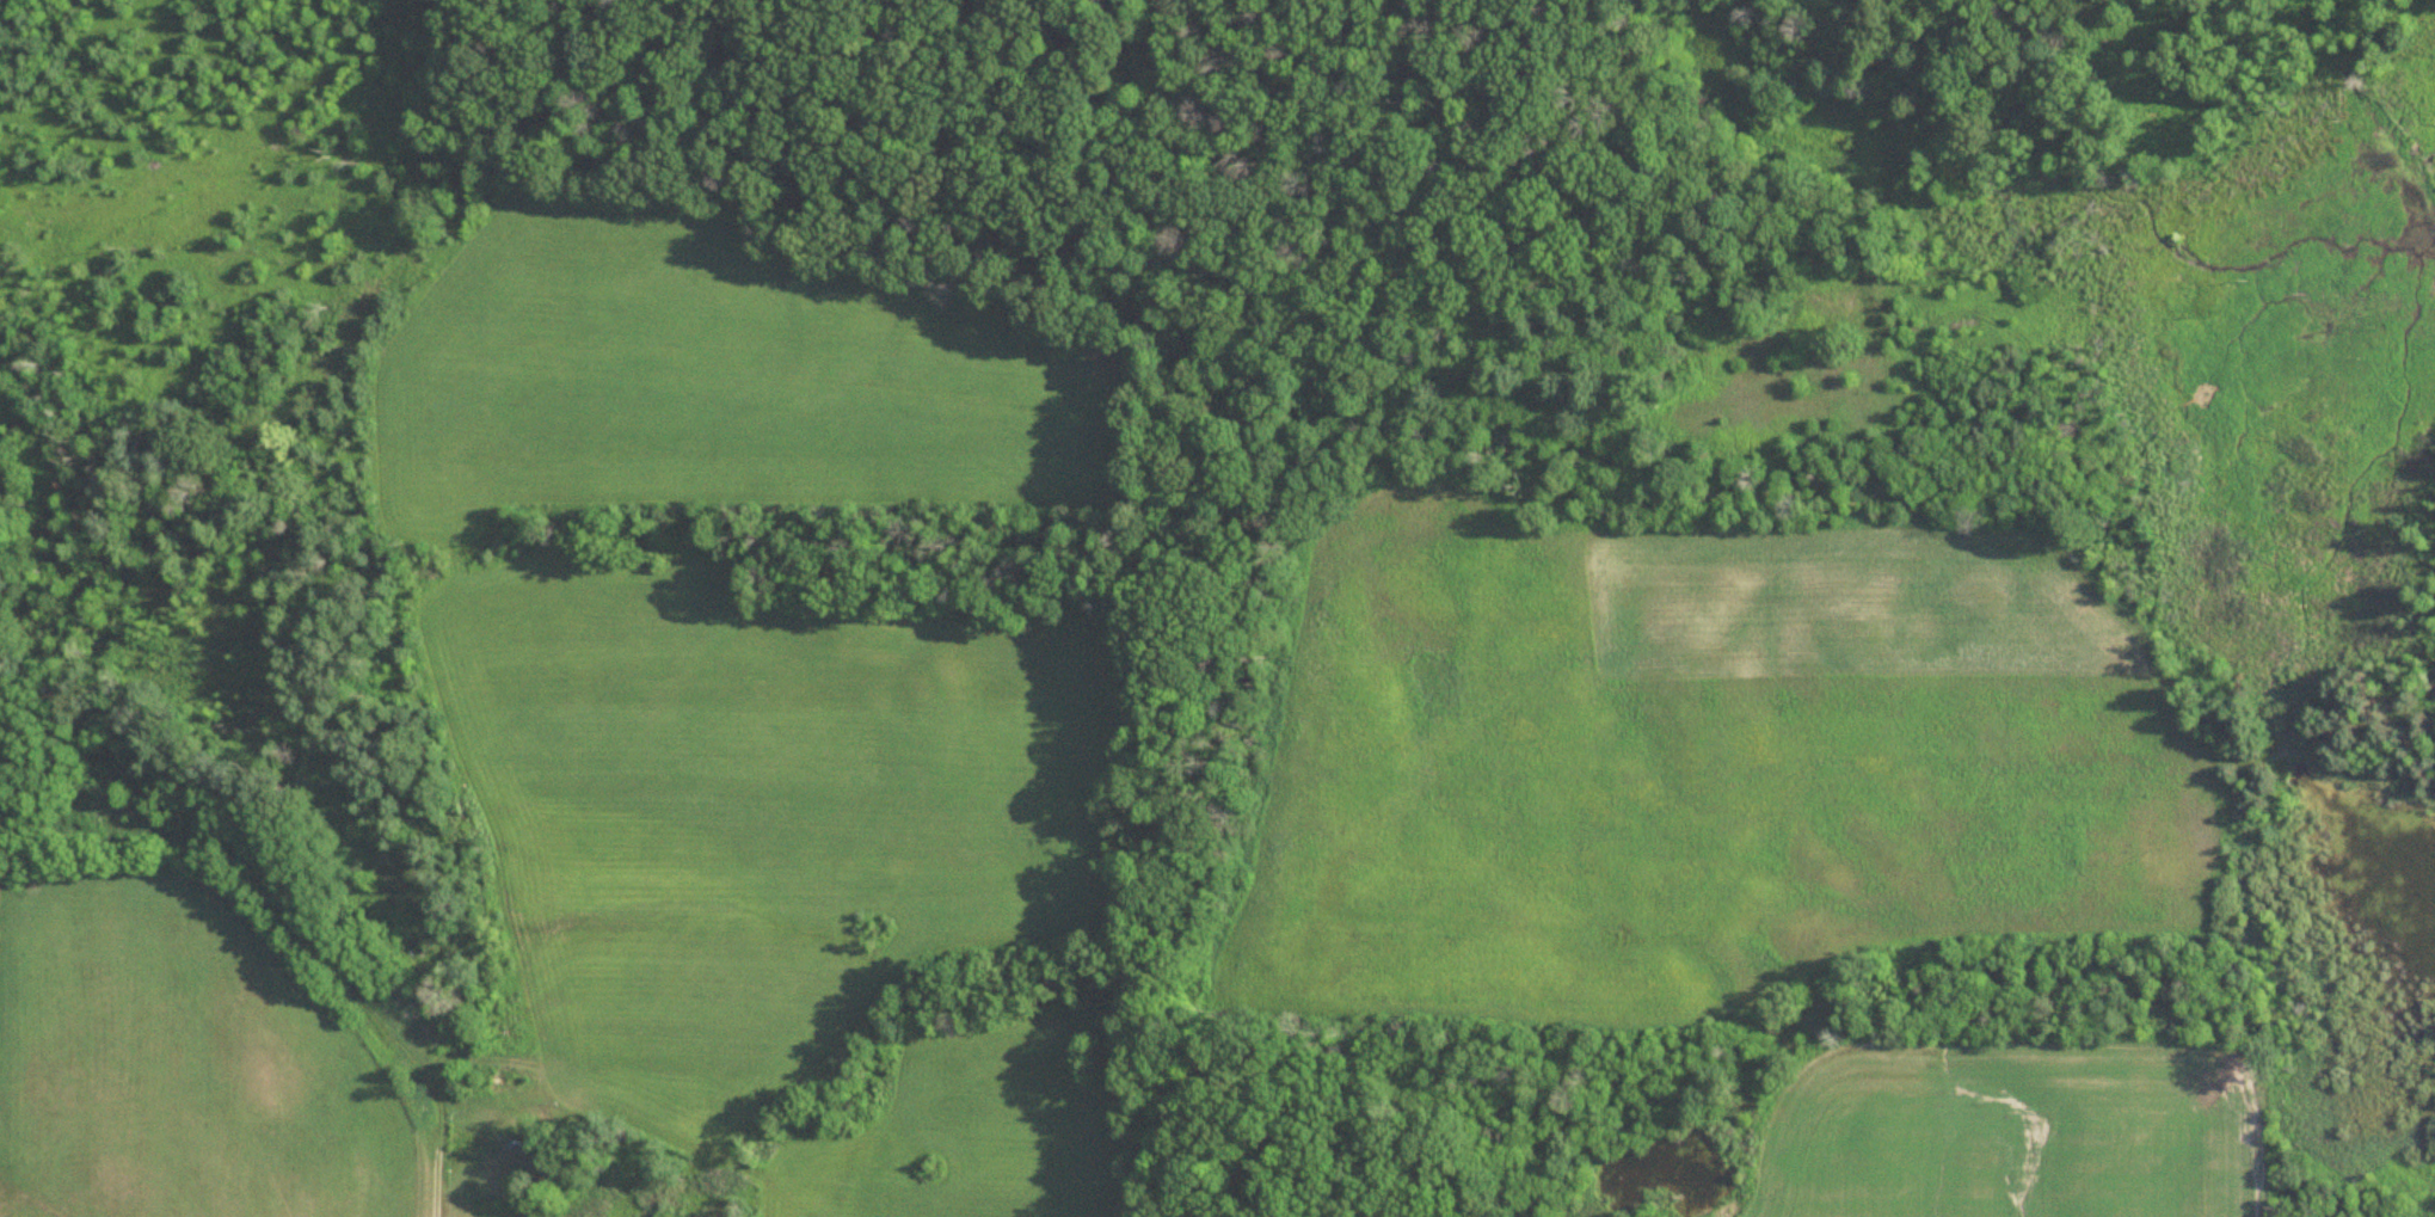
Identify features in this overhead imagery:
crop: (2016, 1136)

